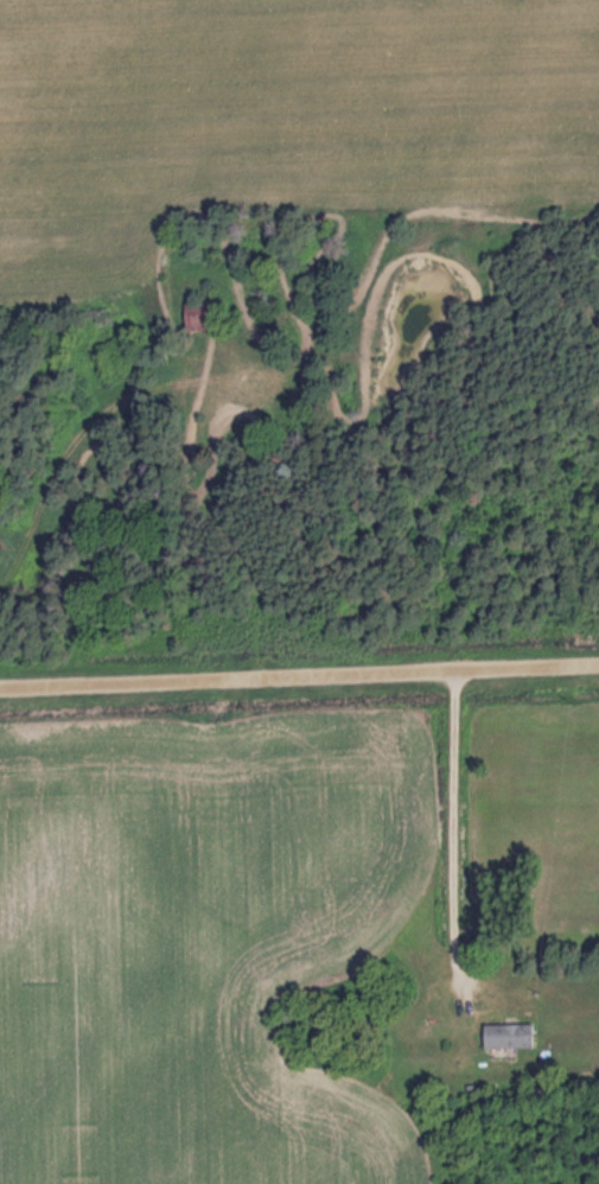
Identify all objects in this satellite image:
building: (200, 314)
road: (299, 679)
building: (505, 1036)

